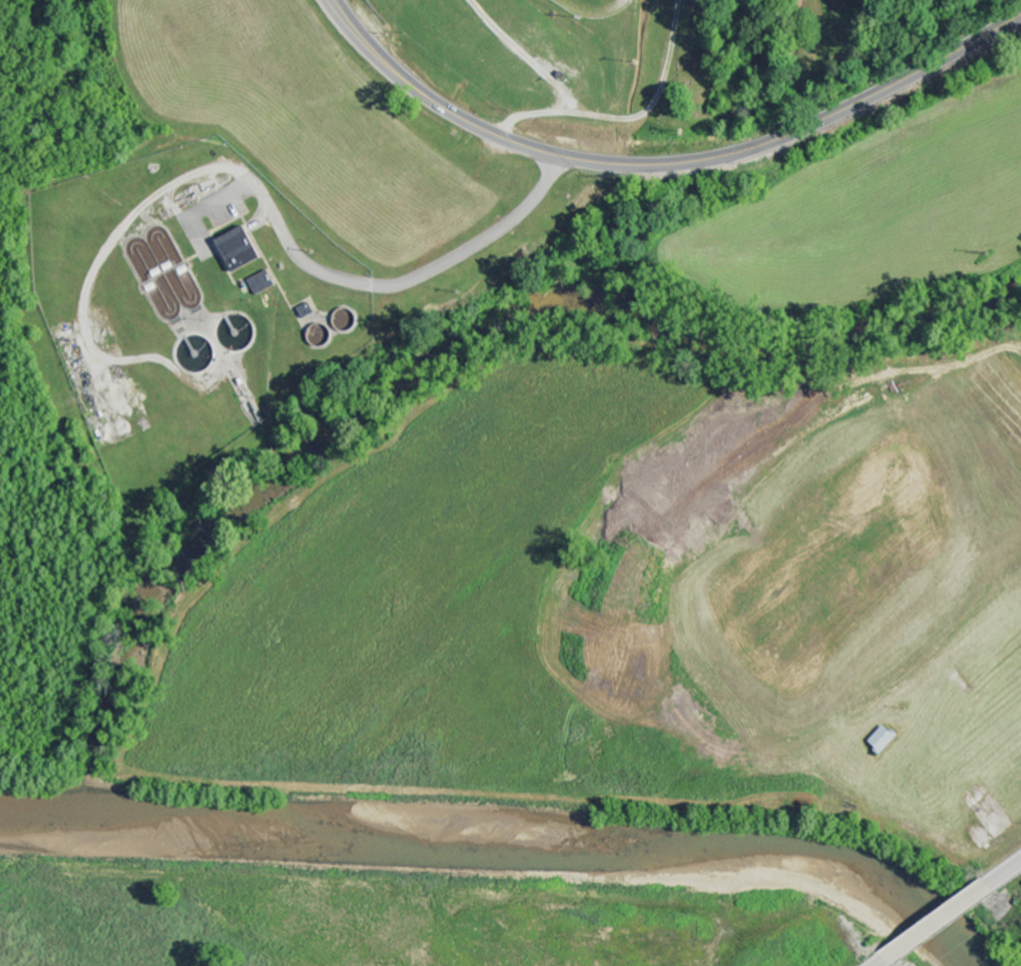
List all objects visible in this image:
park: (761, 55)
road: (789, 64)
road: (620, 120)
road: (666, 163)
building: (242, 250)
building: (264, 283)
building: (308, 312)
building: (885, 740)
river: (519, 828)
road: (1005, 873)
road: (937, 923)
road: (881, 963)

